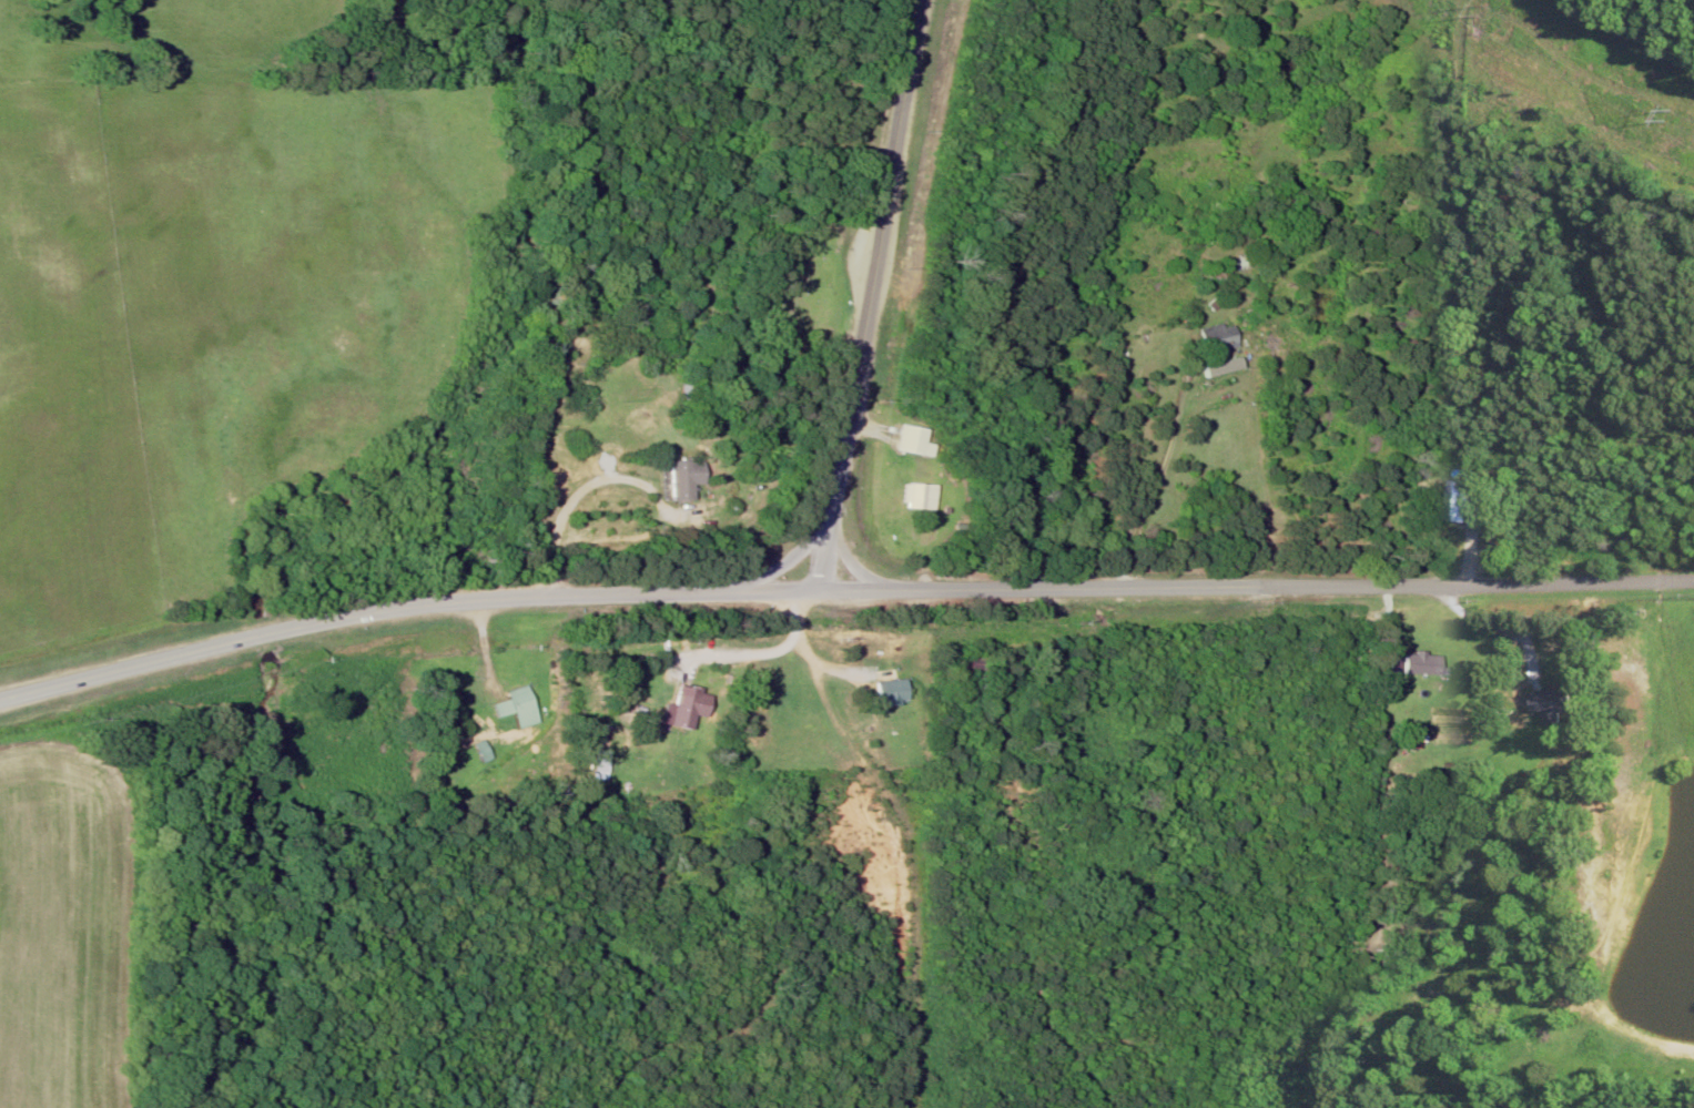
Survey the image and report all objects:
power tower: (1484, 10)
building: (1229, 222)
building: (1244, 262)
building: (1215, 277)
road: (866, 296)
building: (1215, 340)
building: (902, 441)
building: (673, 477)
building: (909, 497)
building: (1460, 502)
road: (549, 559)
road: (789, 561)
road: (850, 562)
road: (1258, 583)
road: (406, 609)
building: (1420, 665)
building: (882, 691)
building: (1550, 703)
building: (686, 708)
building: (515, 709)
building: (1408, 740)
building: (597, 762)

